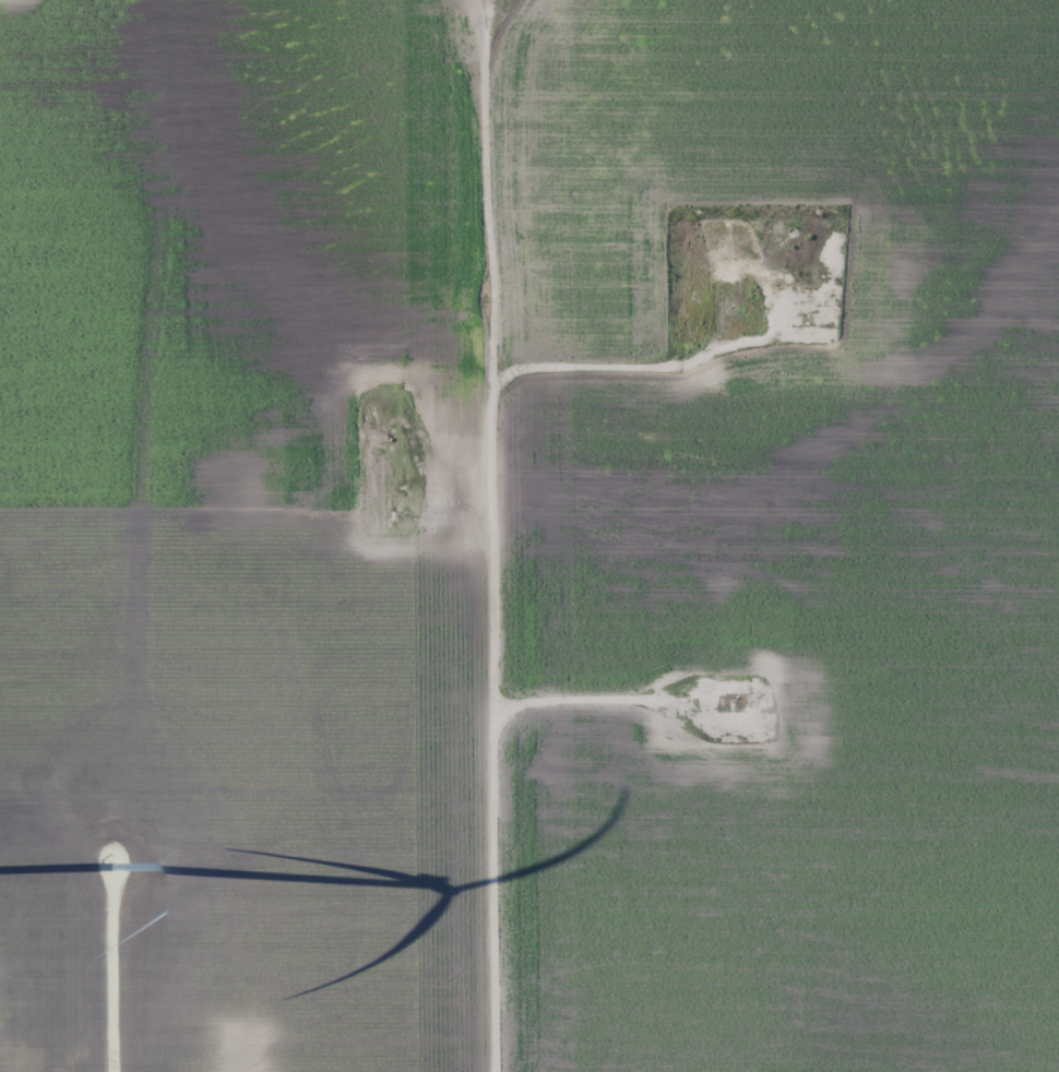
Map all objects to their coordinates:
wind turbine: (120, 869)

